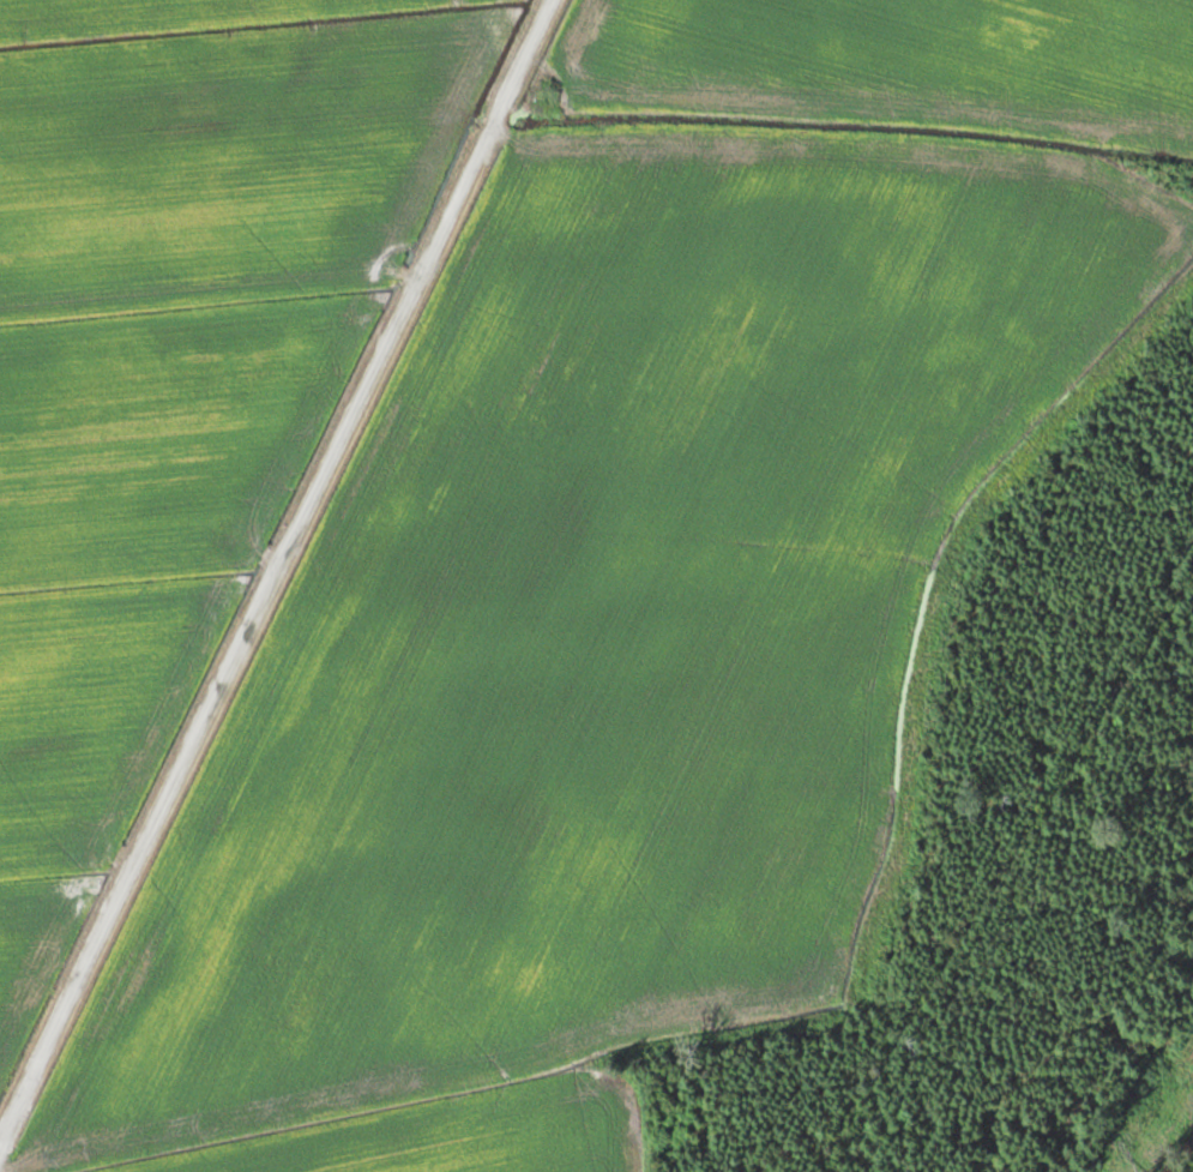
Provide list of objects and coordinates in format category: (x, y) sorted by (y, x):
road: (277, 575)

